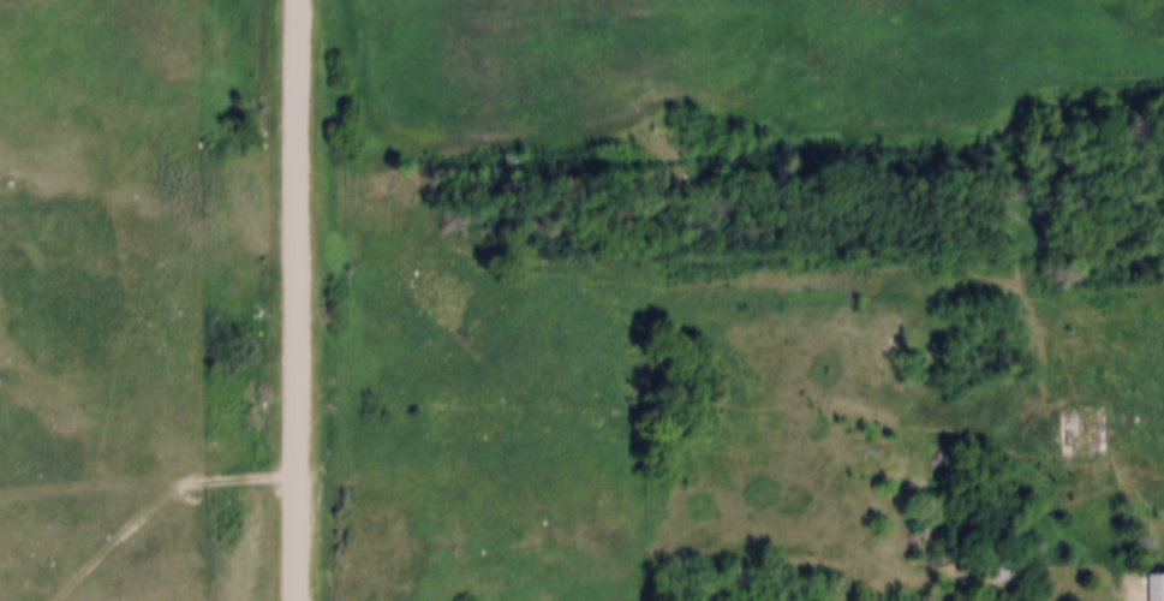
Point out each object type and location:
road: (292, 300)
road: (155, 502)
building: (991, 560)
building: (1003, 575)
building: (1152, 582)

